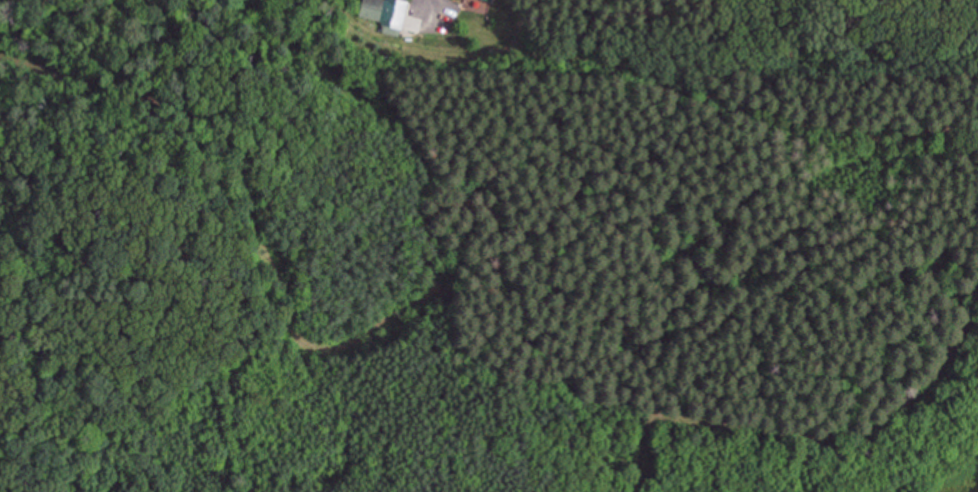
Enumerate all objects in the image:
building: (481, 0)
road: (429, 15)
building: (388, 16)

